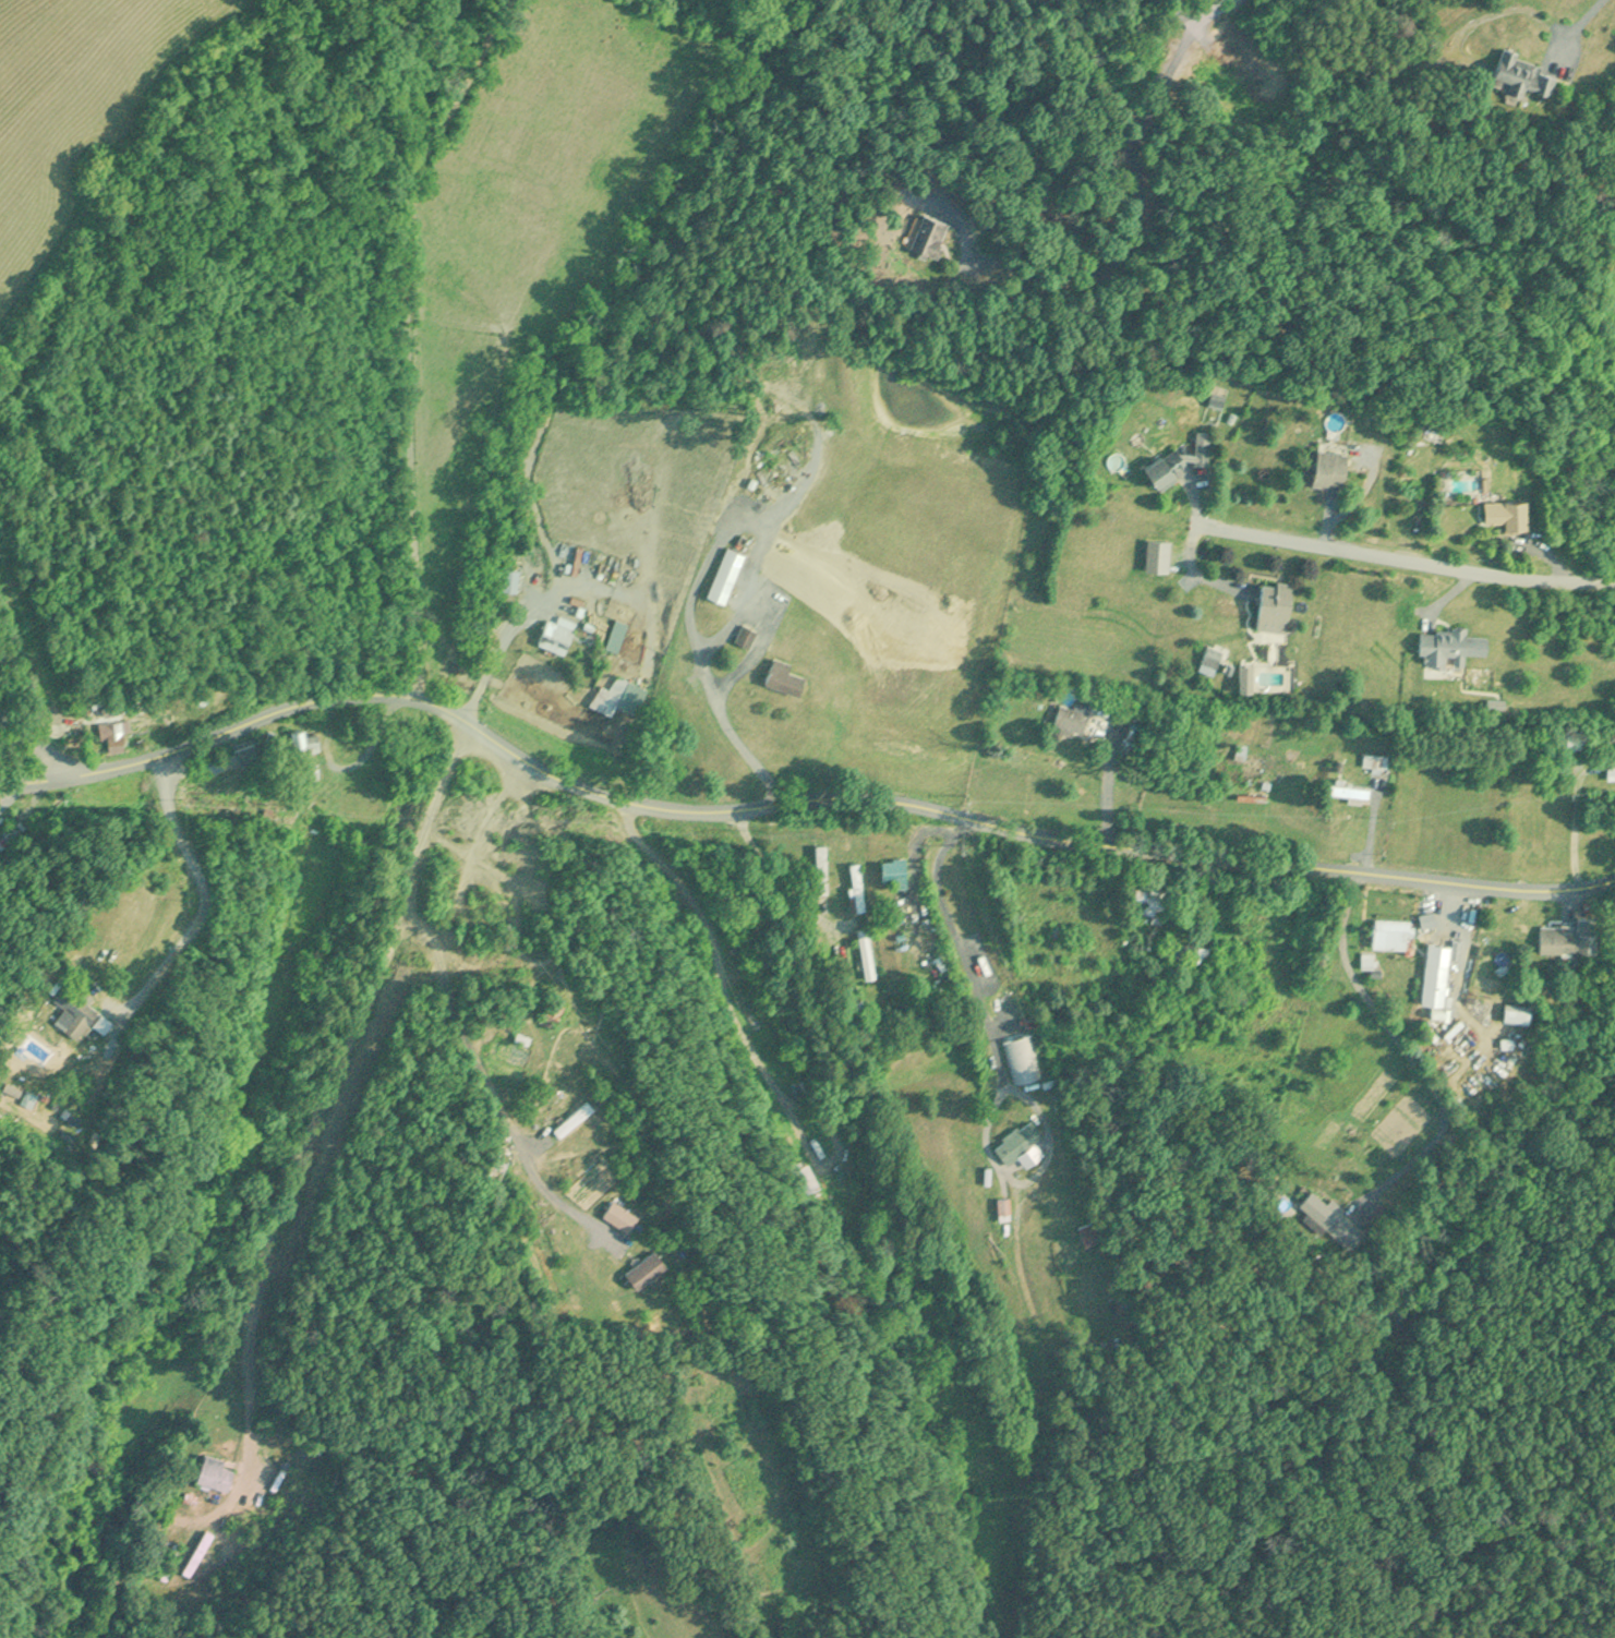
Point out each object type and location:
road: (1178, 11)
road: (1213, 11)
road: (1569, 29)
road: (1142, 203)
road: (1413, 566)
road: (552, 593)
road: (690, 616)
road: (36, 744)
road: (793, 802)
road: (206, 895)
road: (964, 942)
road: (1408, 1053)
road: (489, 1068)
road: (328, 1084)

